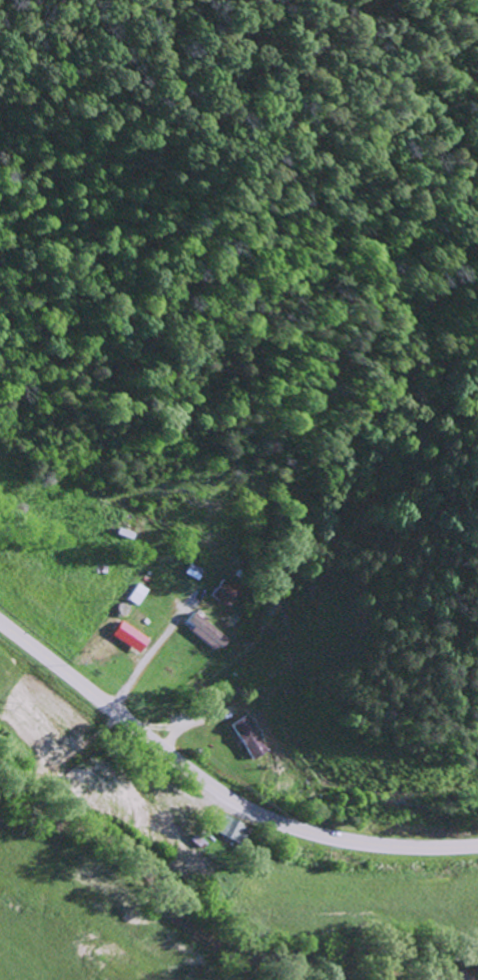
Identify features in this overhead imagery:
building: (194, 570)
building: (226, 592)
building: (139, 593)
building: (208, 632)
building: (253, 737)
road: (64, 774)
road: (216, 784)
building: (236, 829)

